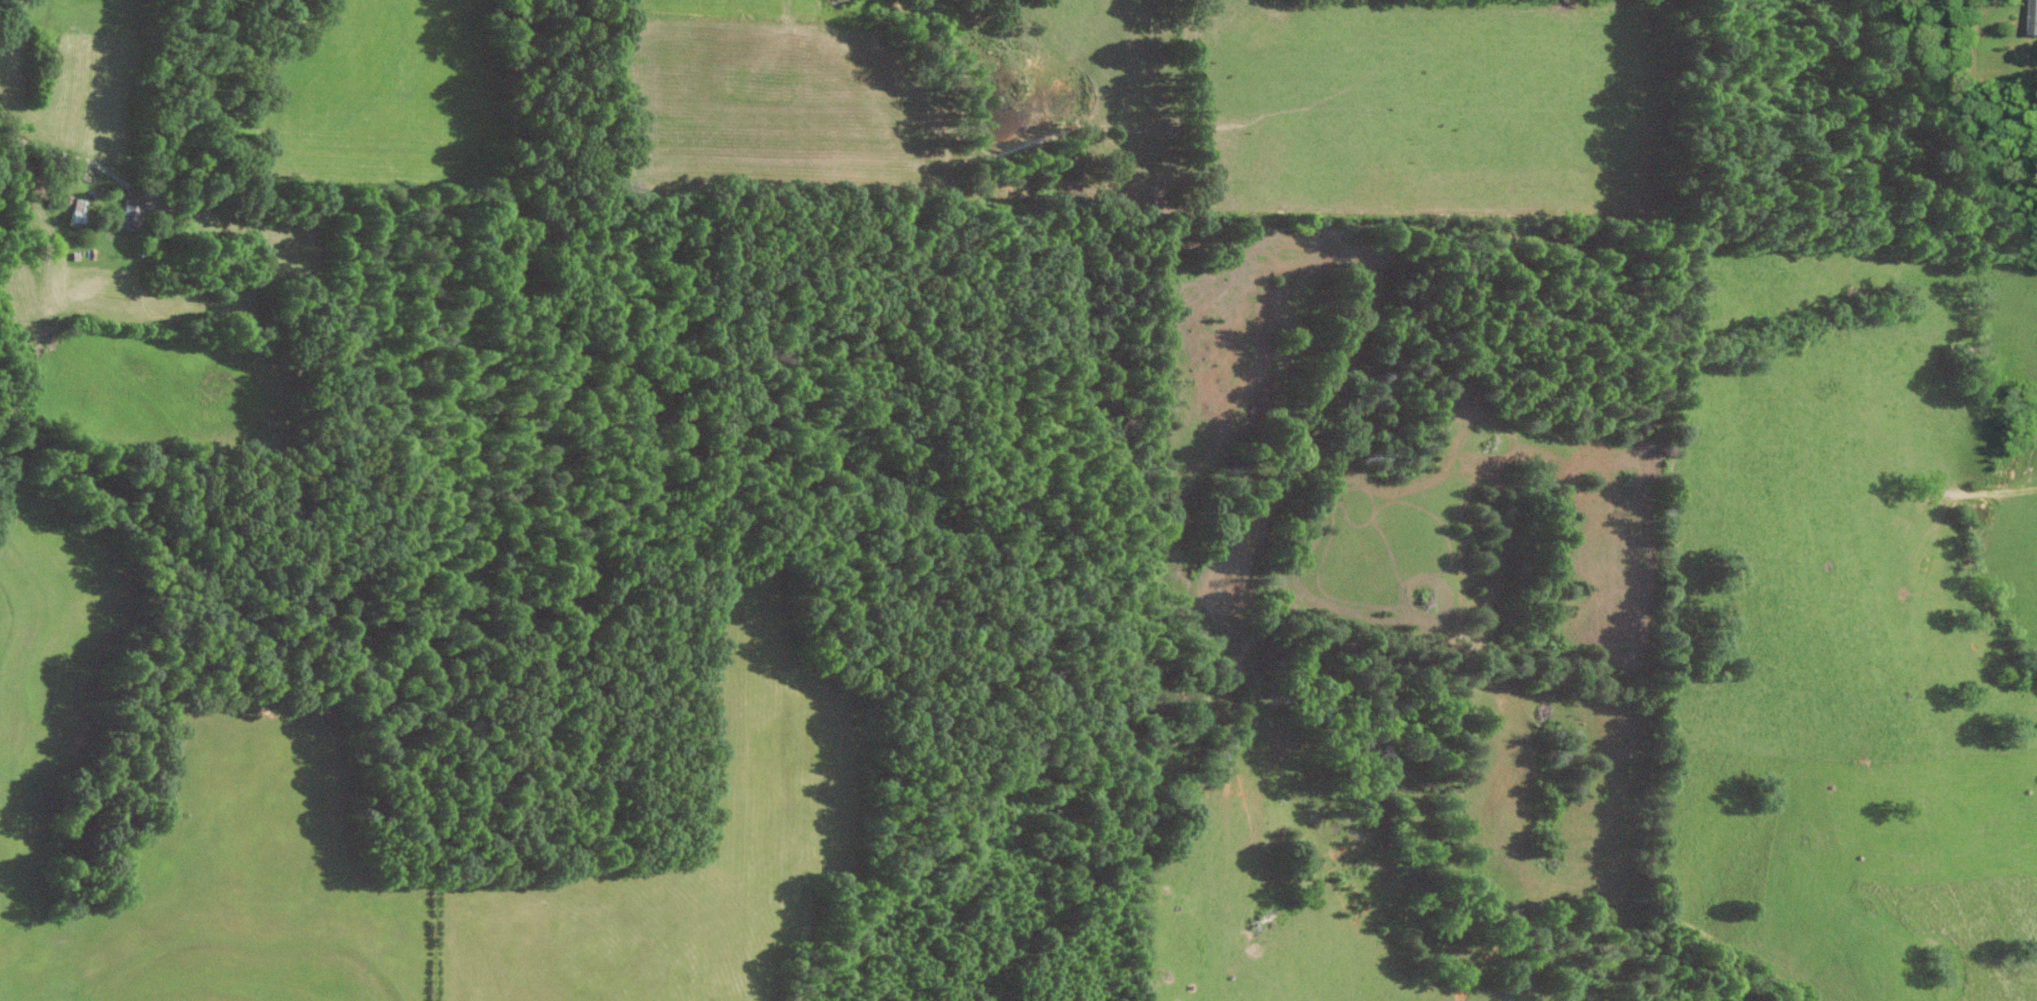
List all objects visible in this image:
building: (2034, 16)
road: (72, 155)
building: (81, 212)
building: (134, 213)

